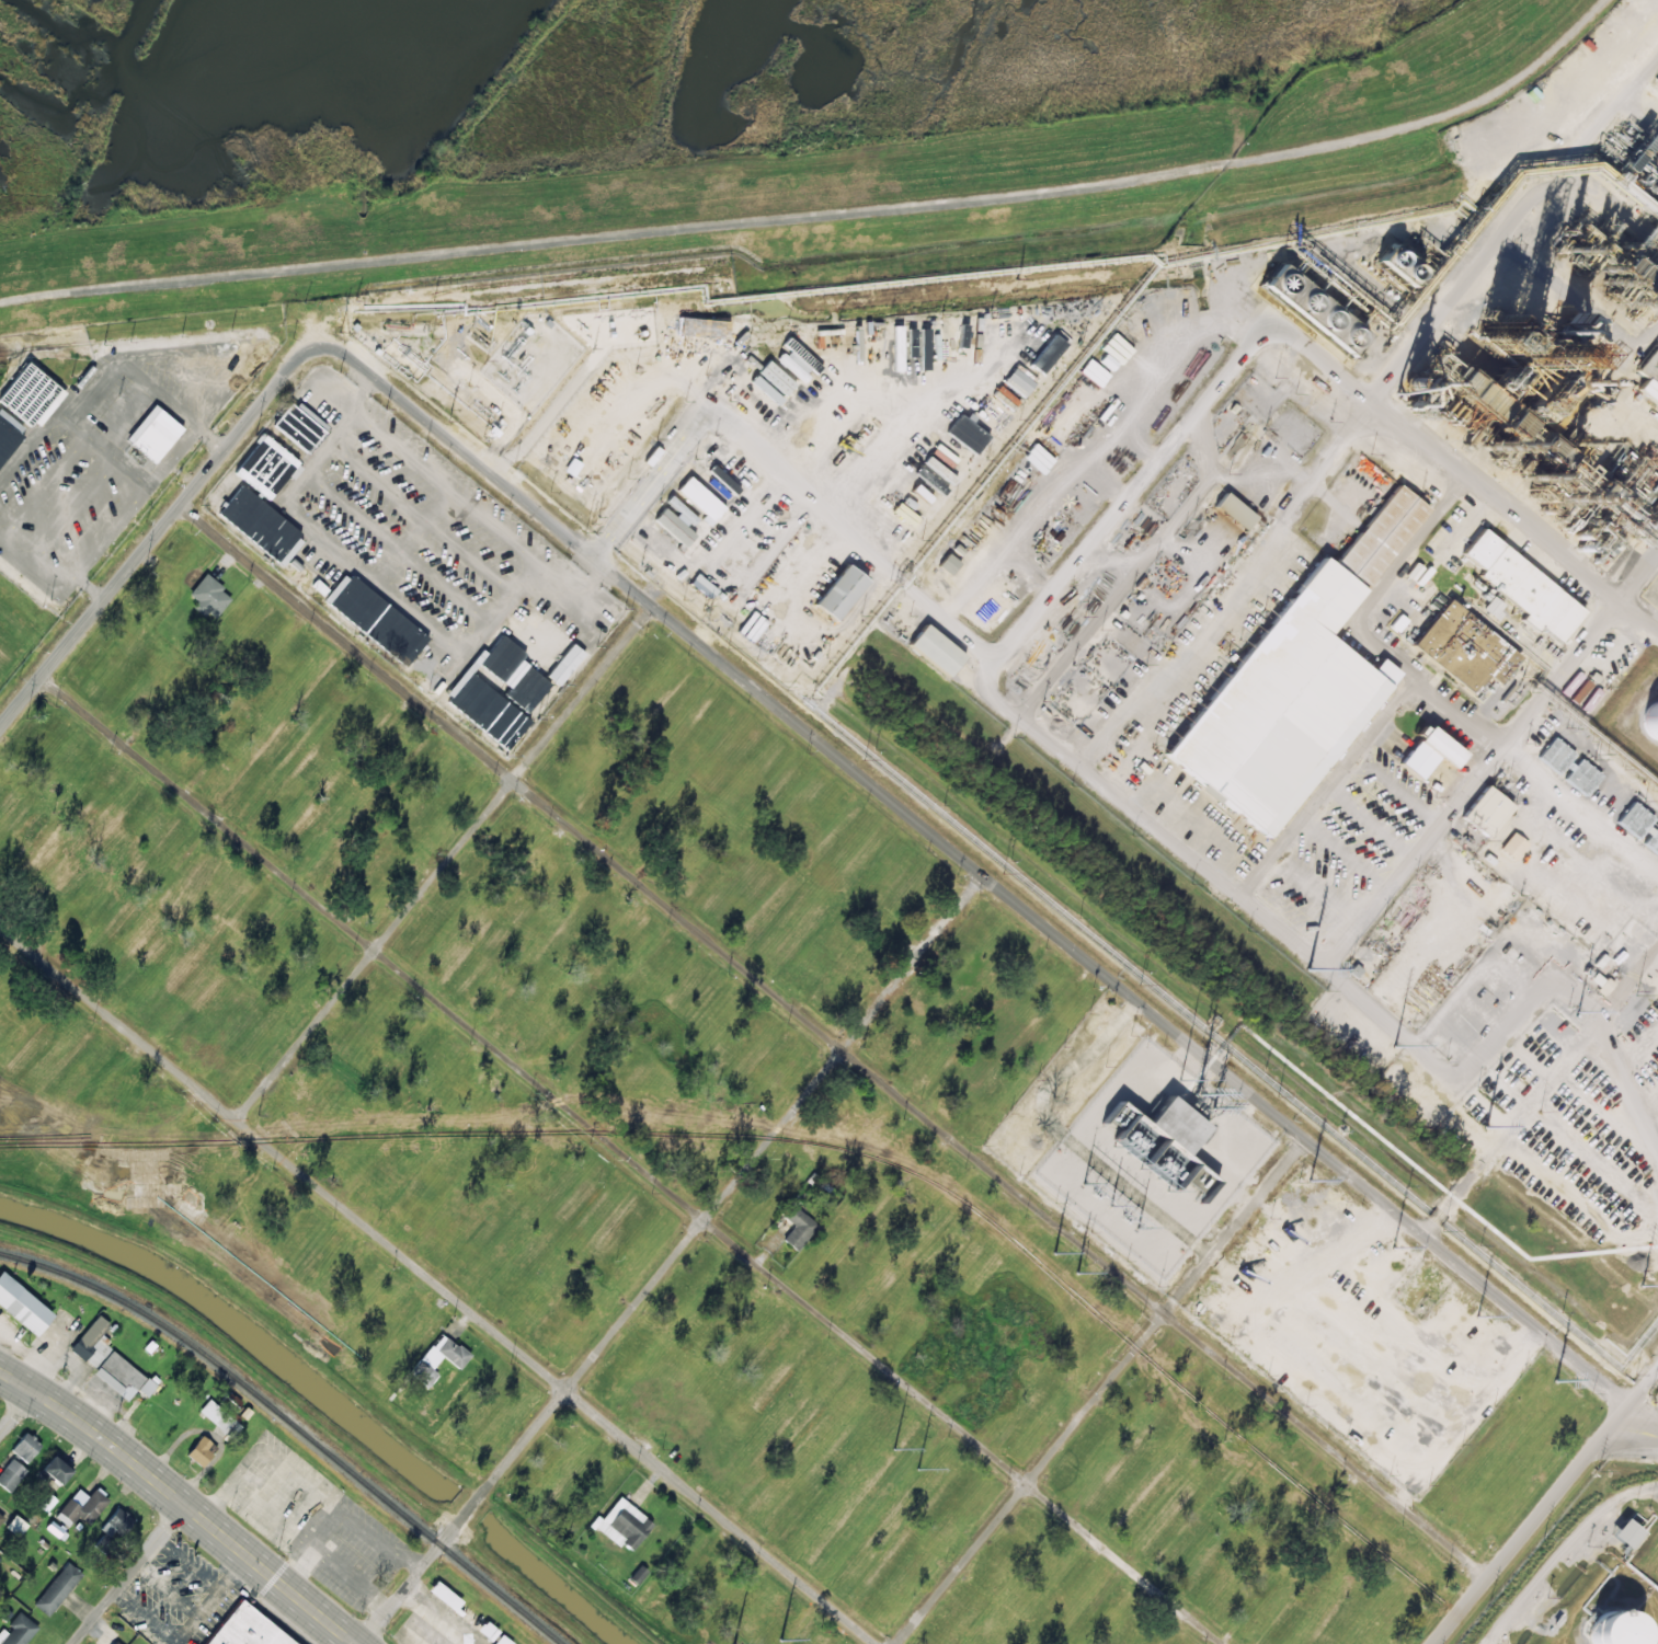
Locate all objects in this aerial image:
road: (822, 215)
road: (1522, 230)
building: (1397, 264)
building: (1313, 310)
building: (704, 327)
building: (1048, 354)
building: (797, 363)
building: (1649, 376)
building: (773, 382)
building: (1018, 382)
building: (1566, 389)
building: (26, 392)
building: (300, 425)
building: (153, 434)
building: (967, 434)
building: (7, 439)
building: (1545, 452)
road: (776, 459)
building: (731, 461)
building: (571, 467)
building: (700, 497)
building: (1231, 507)
building: (259, 520)
building: (676, 521)
road: (158, 530)
building: (1377, 530)
building: (949, 563)
road: (1057, 568)
building: (1514, 574)
building: (835, 590)
building: (209, 597)
building: (1493, 607)
building: (379, 618)
building: (931, 647)
building: (1459, 647)
building: (564, 664)
building: (1271, 702)
building: (487, 706)
building: (1647, 724)
building: (1429, 752)
road: (1486, 757)
building: (1569, 766)
building: (1480, 808)
building: (1639, 826)
building: (1512, 846)
road: (445, 862)
road: (979, 871)
road: (833, 1041)
road: (1531, 1078)
building: (1176, 1124)
power substation: (1153, 1157)
road: (631, 1159)
building: (796, 1225)
road: (672, 1258)
road: (438, 1285)
building: (22, 1306)
building: (92, 1343)
building: (438, 1358)
building: (123, 1377)
road: (1644, 1386)
road: (1101, 1391)
building: (230, 1400)
road: (19, 1410)
building: (220, 1418)
railway: (293, 1426)
road: (1635, 1432)
building: (25, 1447)
building: (202, 1450)
building: (56, 1470)
building: (11, 1474)
road: (180, 1501)
building: (83, 1506)
building: (2, 1520)
building: (115, 1522)
road: (1531, 1522)
building: (622, 1524)
building: (16, 1525)
building: (1620, 1532)
road: (128, 1574)
building: (57, 1589)
building: (462, 1610)
building: (247, 1629)
building: (18, 1630)
building: (1601, 1632)
building: (501, 1640)
building: (116, 1643)

